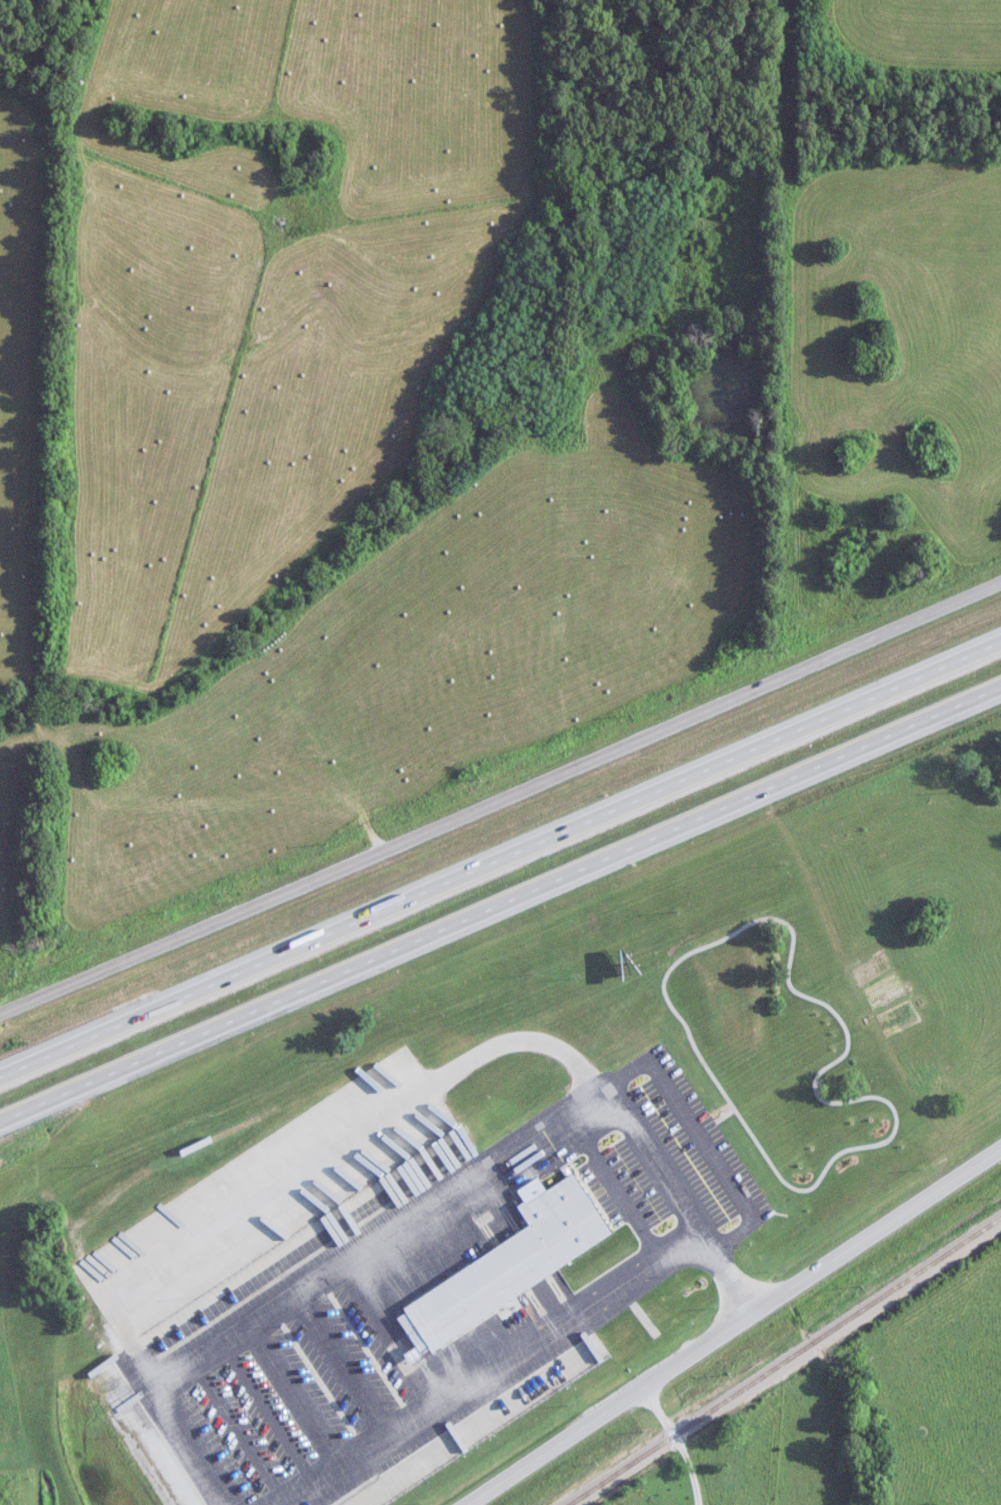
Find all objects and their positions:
crop: (421, 661)
road: (500, 808)
crop: (8, 822)
road: (500, 872)
road: (500, 914)
road: (439, 1083)
road: (708, 1133)
road: (625, 1183)
road: (389, 1237)
building: (517, 1264)
road: (738, 1326)
road: (532, 1348)
railway: (785, 1360)
road: (353, 1364)
road: (310, 1392)
road: (280, 1412)
road: (183, 1421)
road: (250, 1432)
road: (689, 1441)

